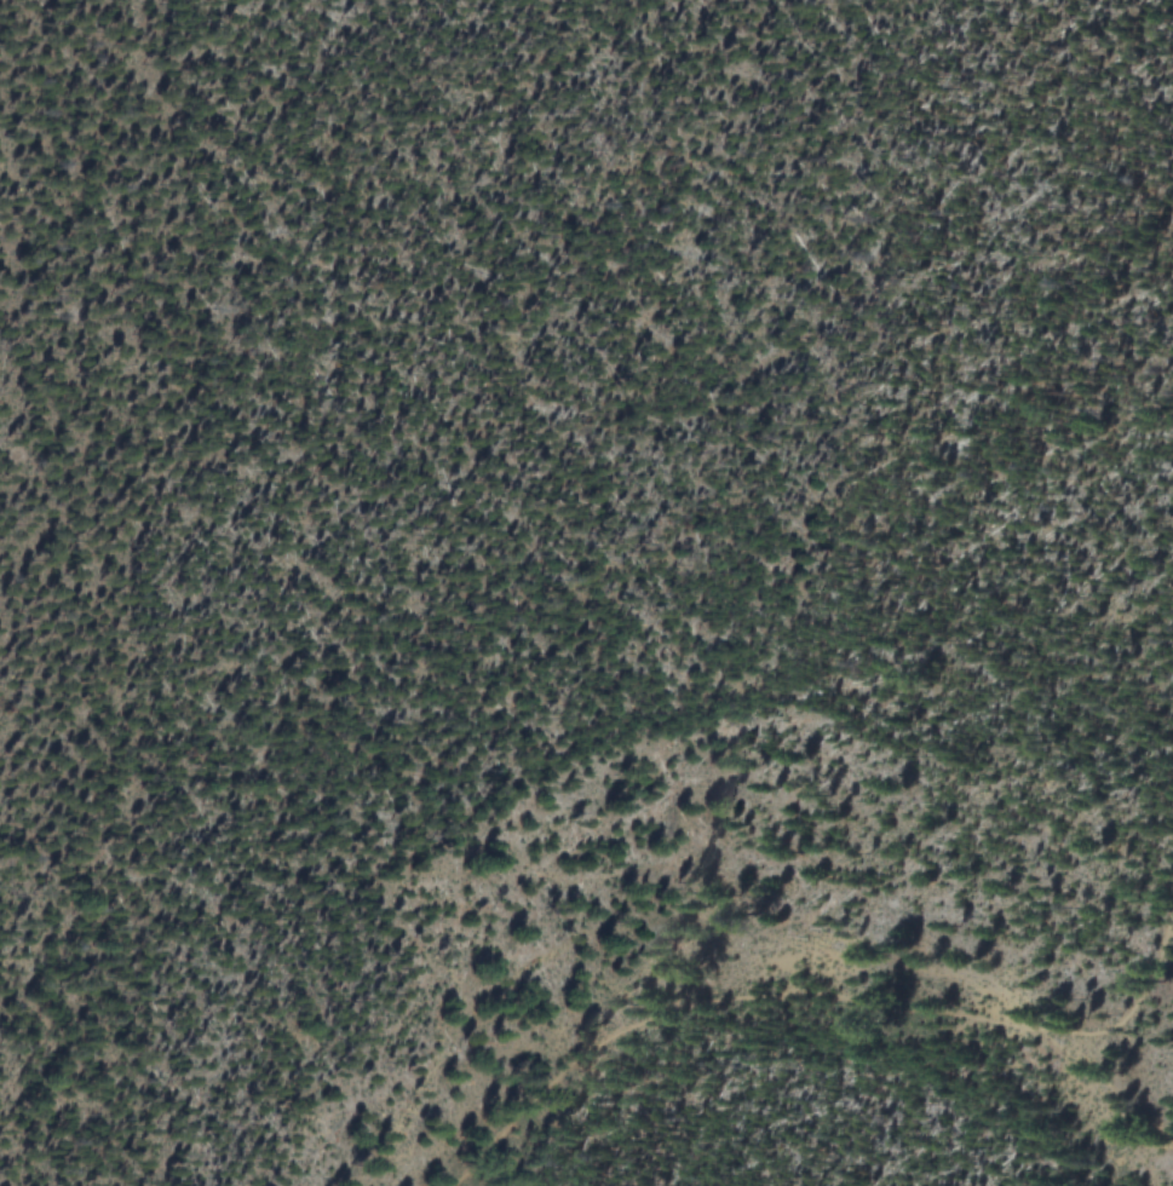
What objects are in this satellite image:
road: (1169, 910)
road: (1169, 933)
road: (810, 1003)

